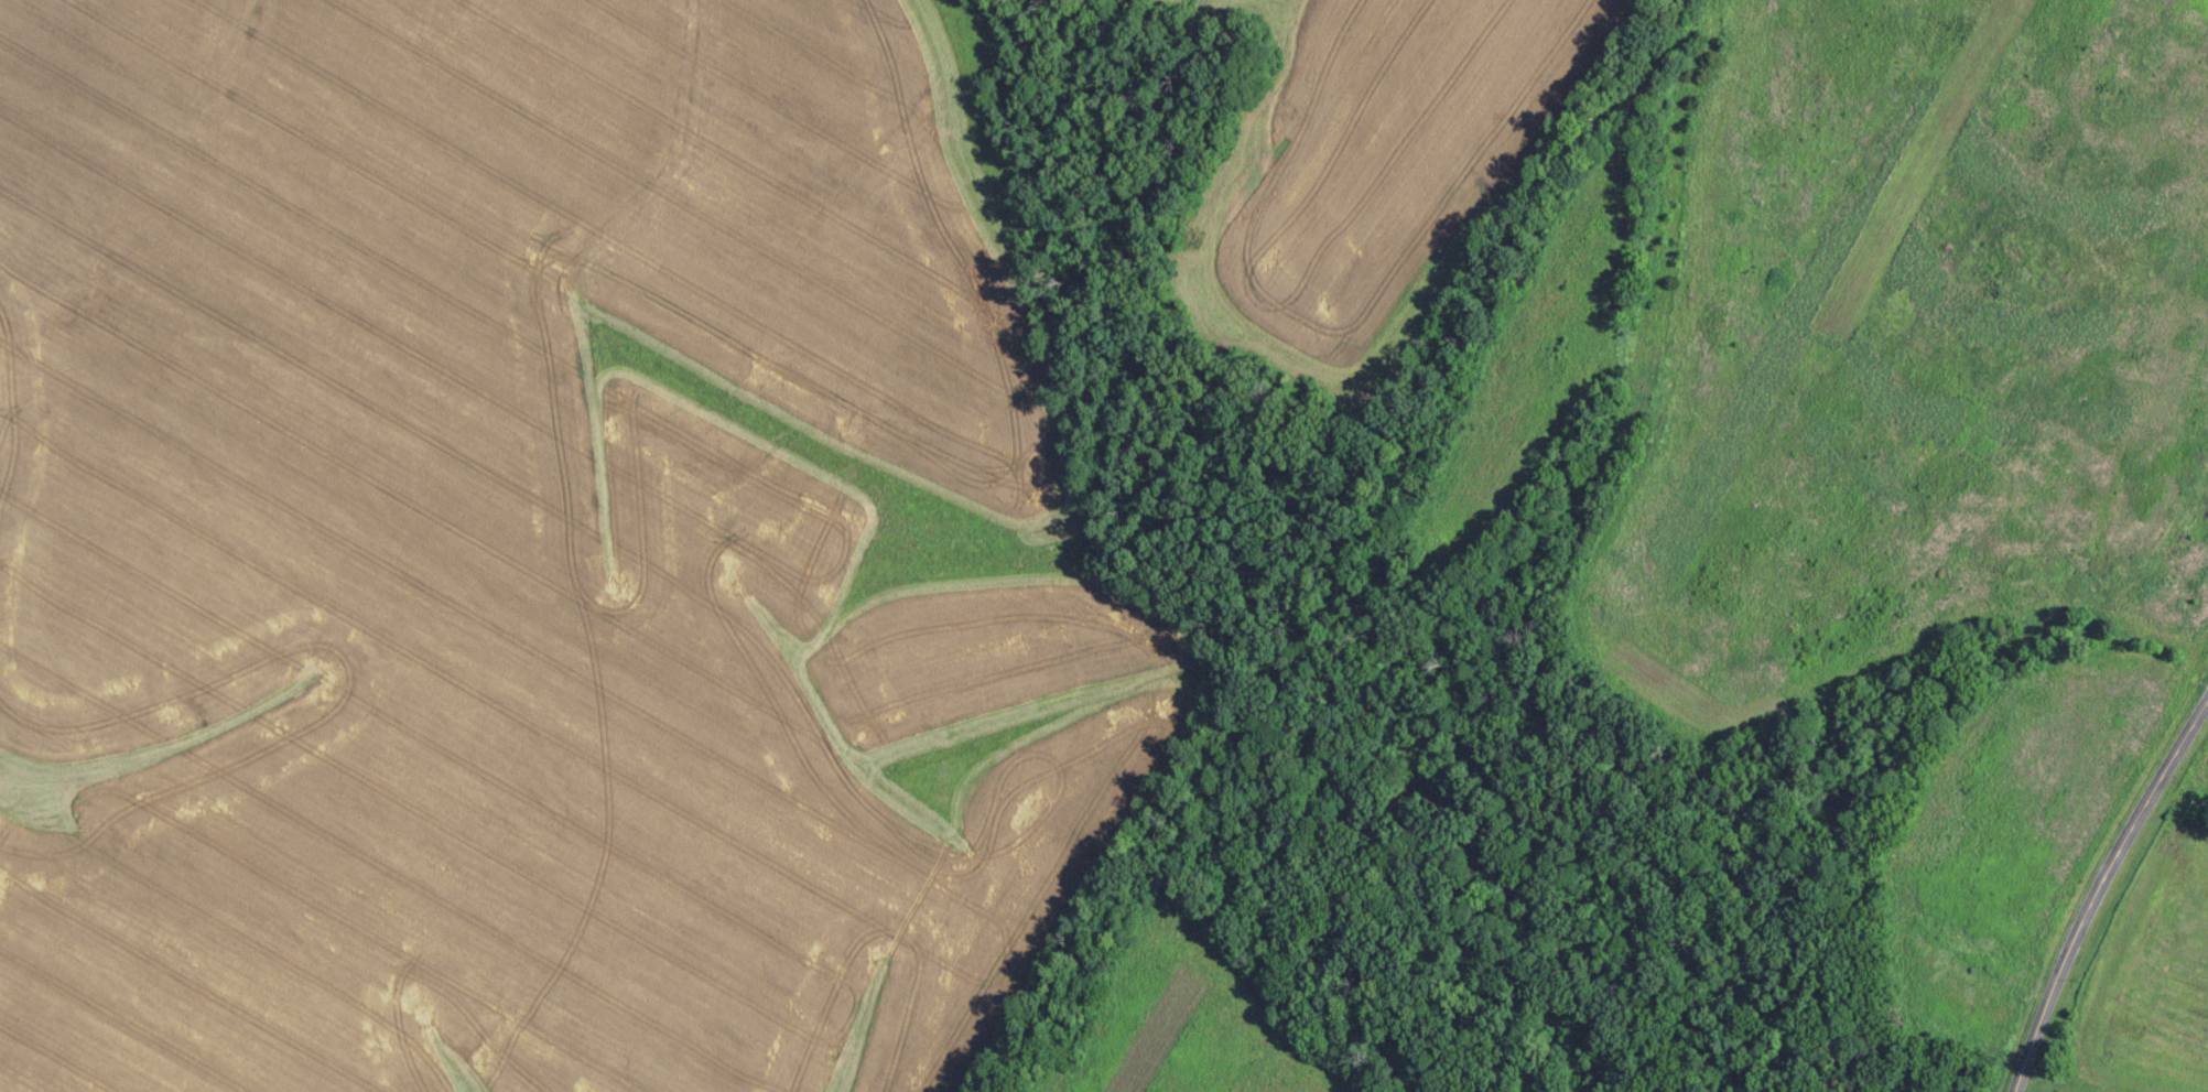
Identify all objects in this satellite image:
road: (2099, 893)

